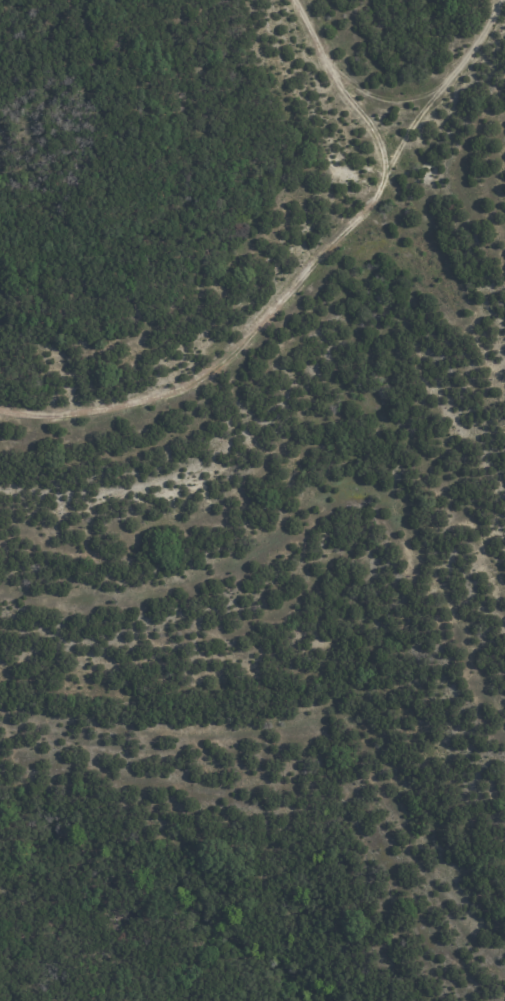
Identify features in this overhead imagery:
road: (352, 78)
road: (299, 281)

